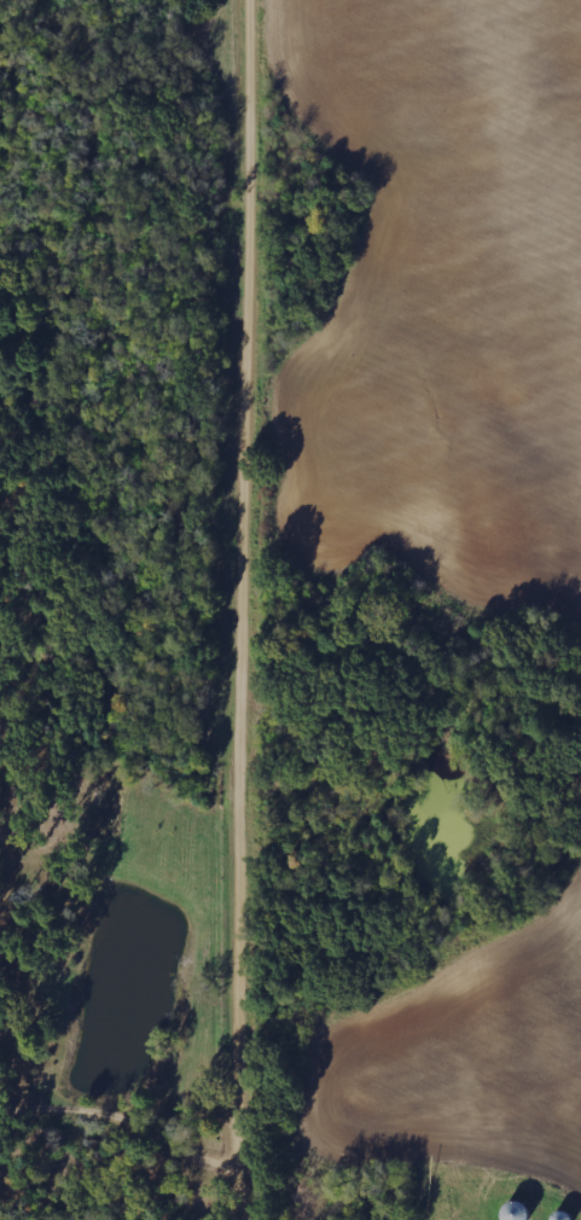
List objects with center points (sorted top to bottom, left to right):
road: (251, 610)

